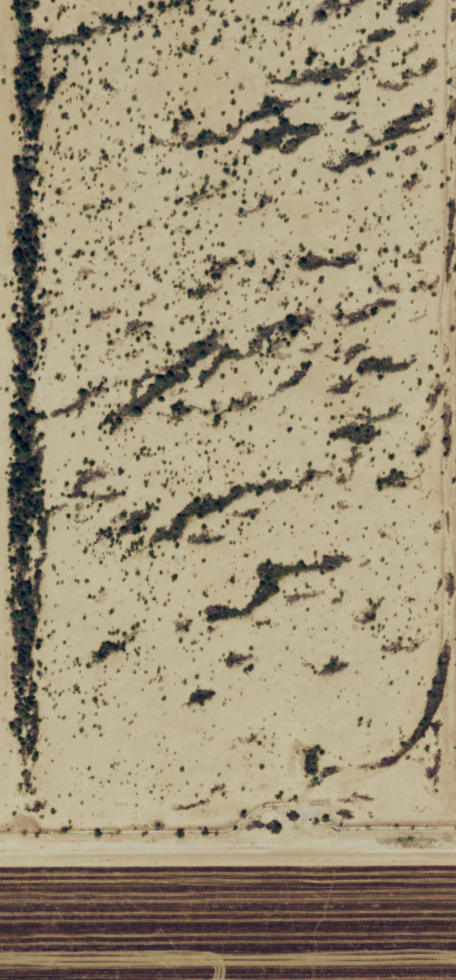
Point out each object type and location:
road: (228, 880)

